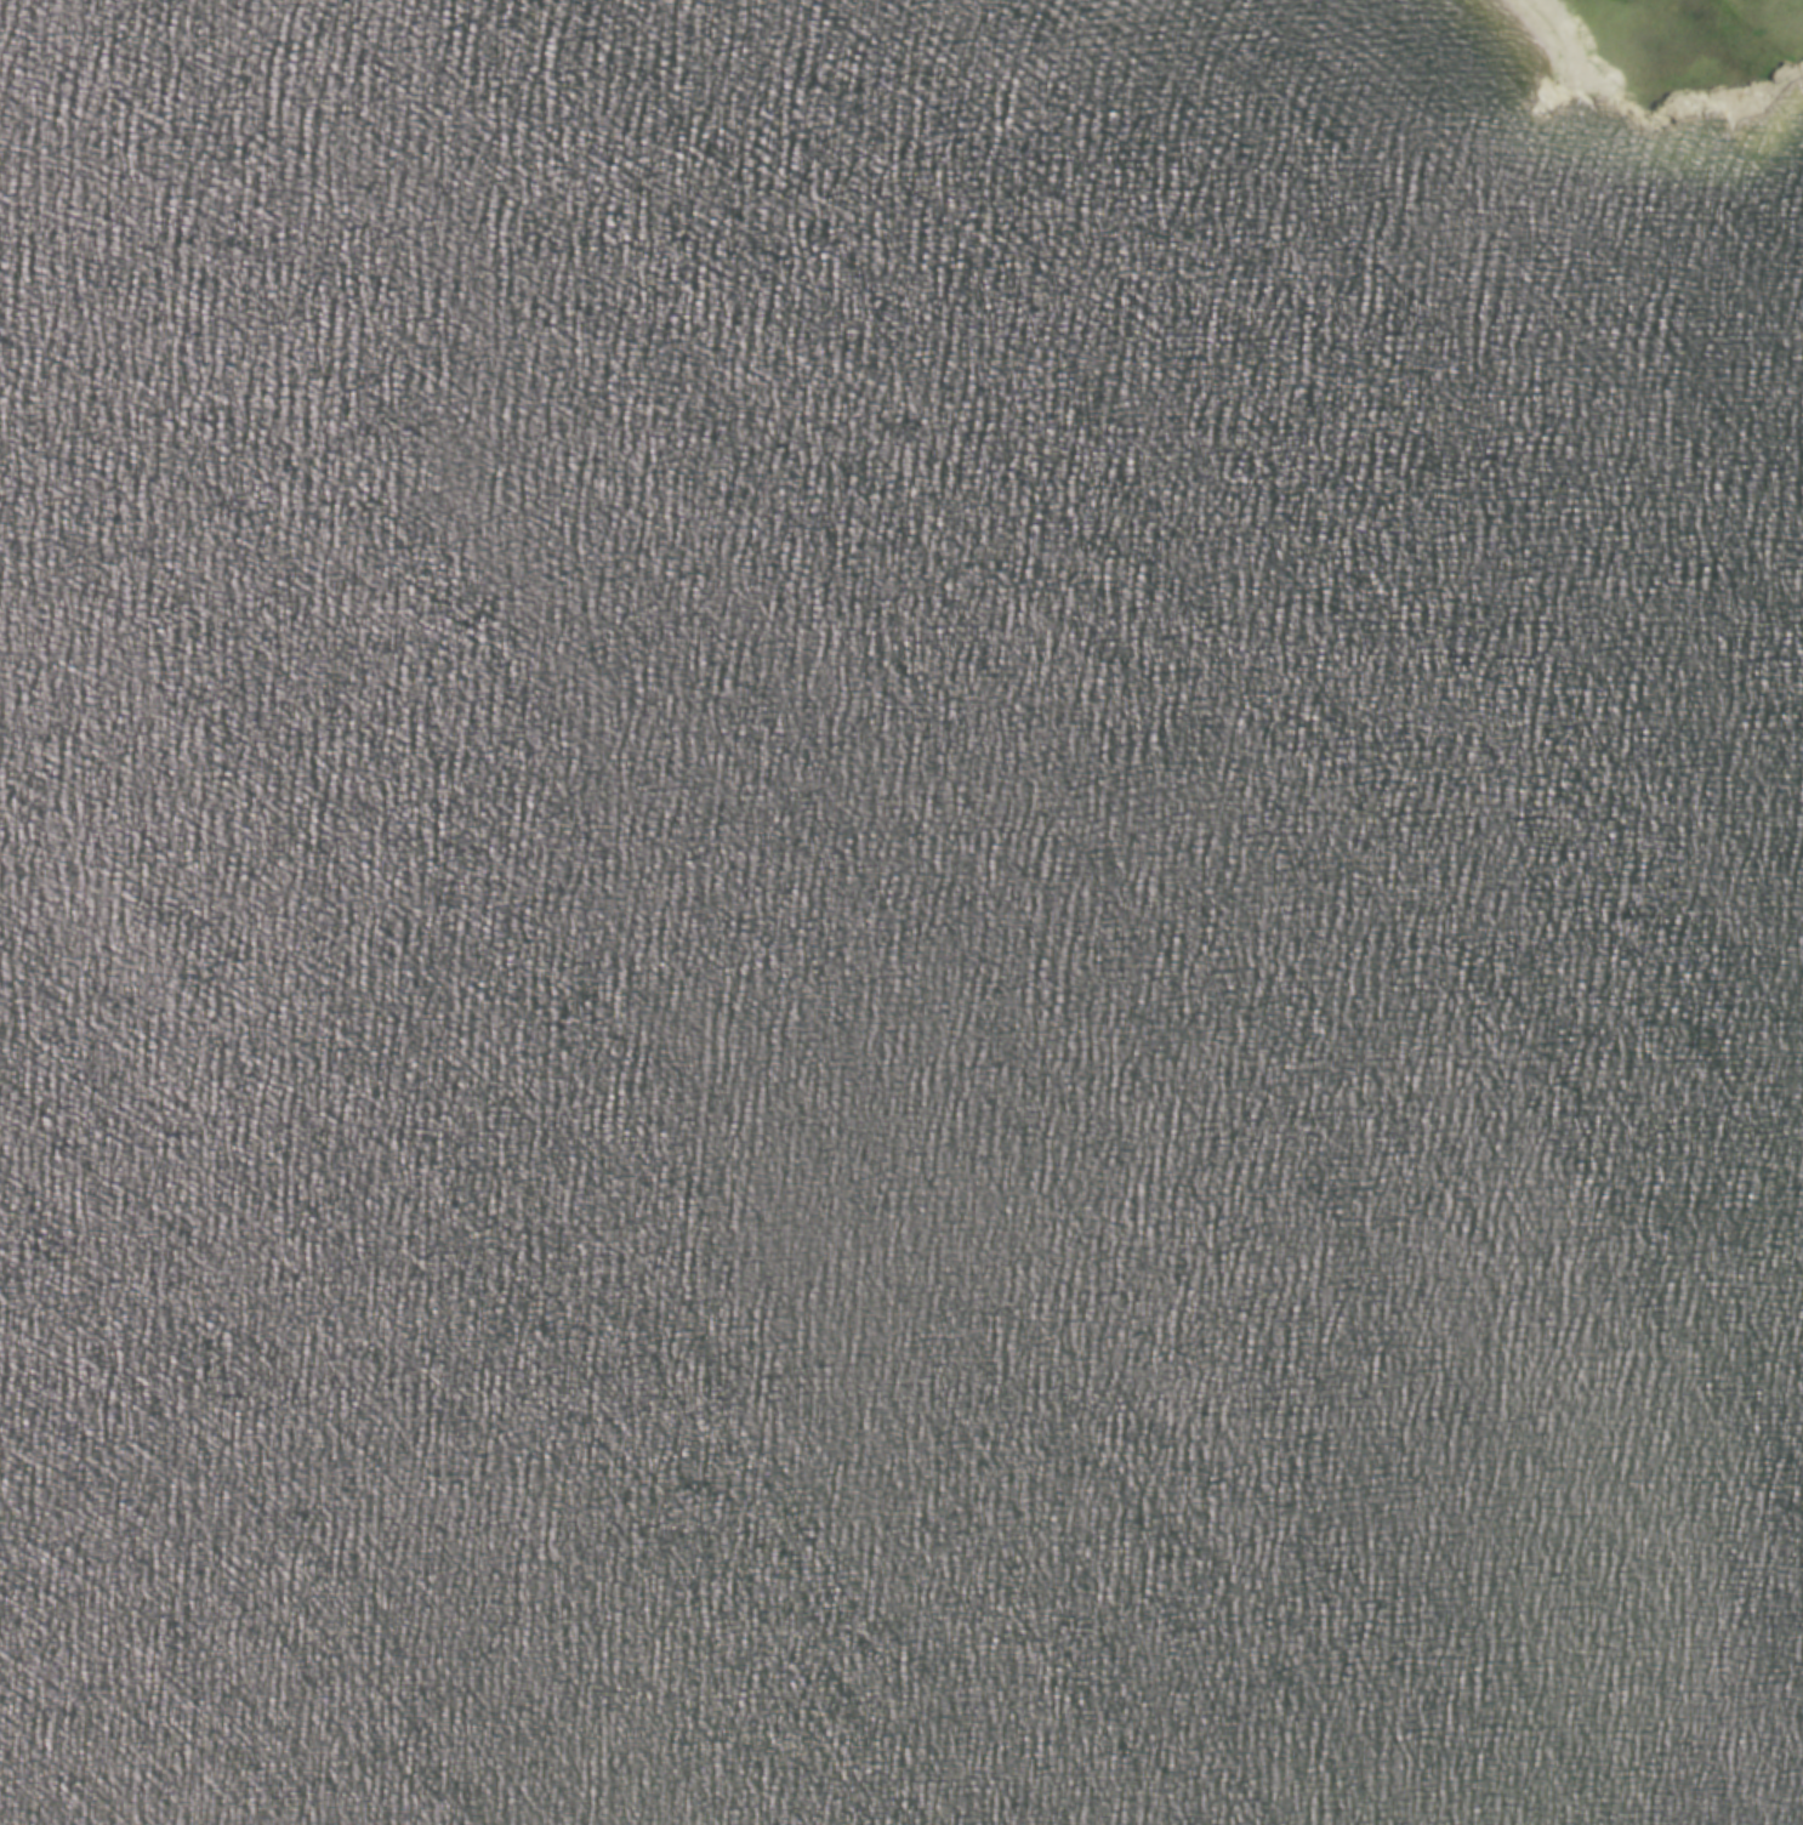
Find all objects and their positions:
river: (898, 1584)

